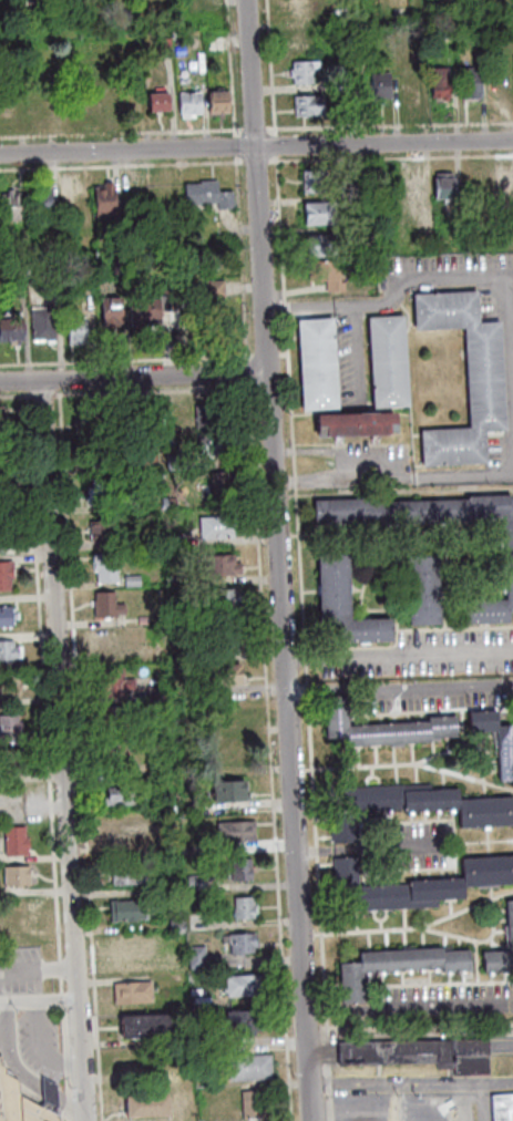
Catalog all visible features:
building: (298, 9)
building: (473, 9)
building: (442, 32)
building: (177, 50)
building: (295, 73)
building: (433, 83)
building: (331, 84)
building: (463, 84)
building: (375, 85)
building: (409, 86)
building: (154, 102)
building: (186, 102)
building: (215, 102)
road: (271, 102)
building: (99, 103)
building: (136, 104)
building: (9, 106)
building: (301, 106)
building: (347, 115)
road: (256, 130)
road: (256, 147)
road: (256, 163)
building: (358, 181)
building: (308, 182)
building: (502, 184)
building: (441, 185)
building: (476, 186)
building: (410, 188)
building: (204, 195)
building: (102, 199)
building: (38, 202)
building: (9, 206)
building: (315, 214)
building: (421, 232)
building: (317, 246)
building: (116, 266)
building: (325, 272)
building: (213, 309)
building: (107, 312)
building: (142, 312)
building: (39, 323)
building: (9, 329)
building: (73, 332)
building: (384, 361)
building: (314, 363)
road: (506, 369)
road: (133, 377)
building: (481, 379)
road: (133, 391)
building: (206, 416)
building: (0, 418)
building: (92, 423)
building: (351, 425)
building: (175, 440)
building: (207, 445)
road: (325, 449)
building: (95, 452)
building: (1, 455)
building: (172, 461)
building: (218, 486)
building: (94, 491)
building: (0, 496)
building: (2, 497)
building: (129, 505)
building: (213, 526)
building: (99, 531)
building: (2, 533)
building: (170, 541)
building: (505, 546)
road: (277, 559)
road: (255, 562)
building: (217, 566)
building: (102, 567)
building: (4, 574)
building: (129, 580)
building: (419, 592)
building: (220, 598)
building: (103, 606)
building: (340, 606)
building: (197, 613)
building: (6, 616)
building: (140, 619)
building: (224, 639)
building: (104, 641)
building: (9, 652)
building: (153, 654)
road: (417, 654)
road: (302, 658)
building: (222, 676)
building: (111, 683)
building: (7, 686)
road: (399, 690)
building: (153, 692)
building: (107, 718)
building: (9, 727)
building: (379, 729)
building: (494, 743)
road: (62, 751)
building: (235, 754)
road: (44, 757)
building: (110, 757)
building: (9, 761)
building: (226, 790)
building: (122, 795)
building: (414, 808)
building: (123, 831)
building: (233, 831)
building: (14, 839)
road: (381, 846)
road: (314, 850)
building: (238, 870)
building: (126, 873)
building: (17, 874)
building: (193, 883)
building: (165, 885)
building: (418, 885)
building: (240, 907)
building: (22, 912)
building: (124, 912)
building: (174, 926)
building: (507, 927)
building: (238, 943)
building: (127, 948)
building: (194, 957)
building: (175, 965)
building: (392, 968)
road: (38, 969)
building: (242, 983)
building: (130, 990)
road: (38, 1000)
road: (428, 1008)
road: (324, 1011)
parking lot: (25, 1014)
building: (243, 1018)
building: (142, 1025)
road: (408, 1032)
road: (38, 1048)
building: (417, 1051)
road: (6, 1052)
building: (133, 1060)
building: (244, 1065)
road: (410, 1077)
road: (50, 1092)
building: (25, 1100)
road: (70, 1102)
building: (150, 1103)
building: (257, 1103)
building: (503, 1107)
road: (376, 1110)

